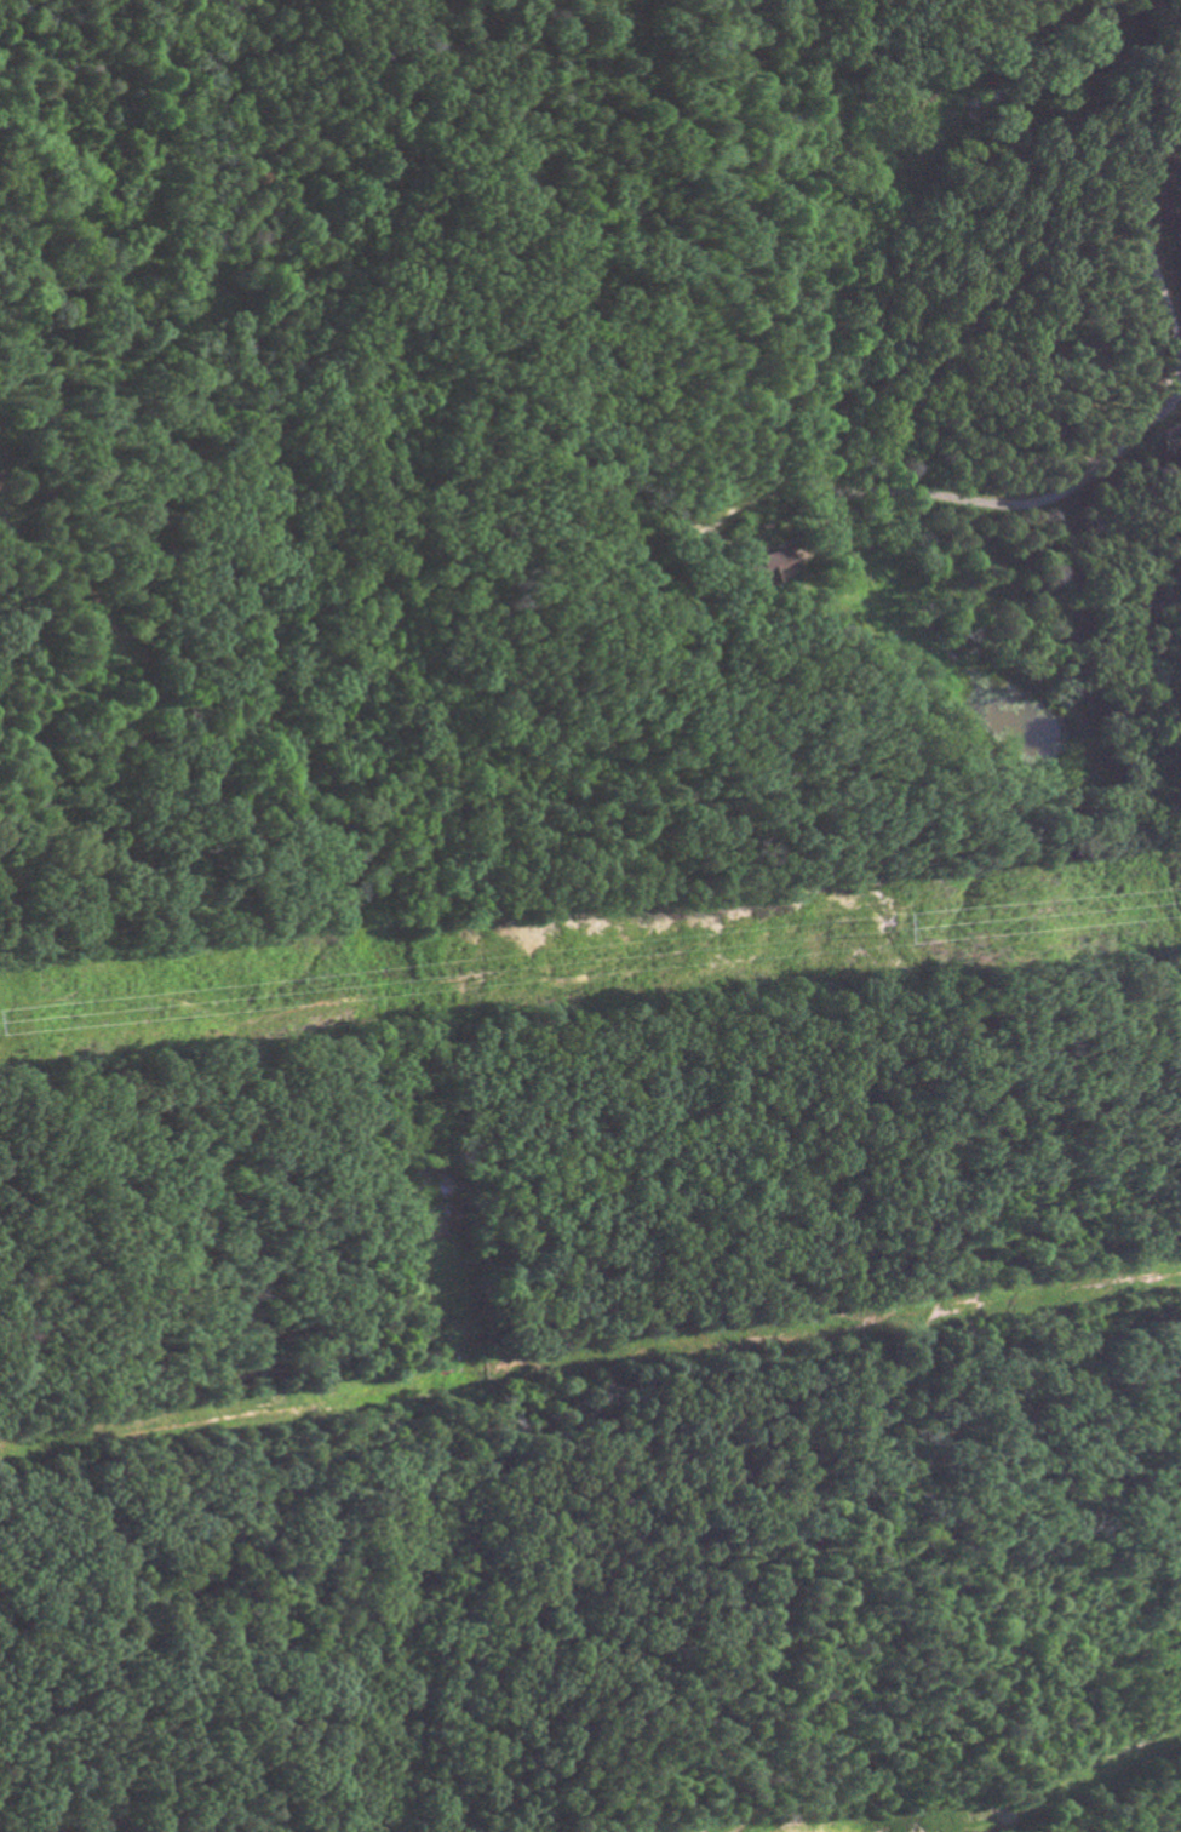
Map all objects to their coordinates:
road: (527, 44)
road: (1154, 414)
building: (770, 568)
power tower: (887, 928)

